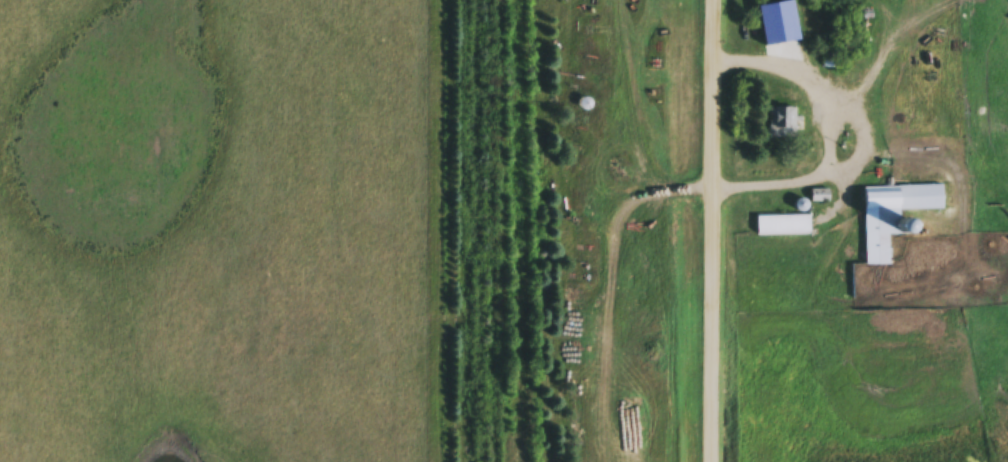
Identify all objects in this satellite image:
building: (782, 124)
road: (830, 127)
building: (893, 216)
building: (776, 226)
road: (713, 231)

